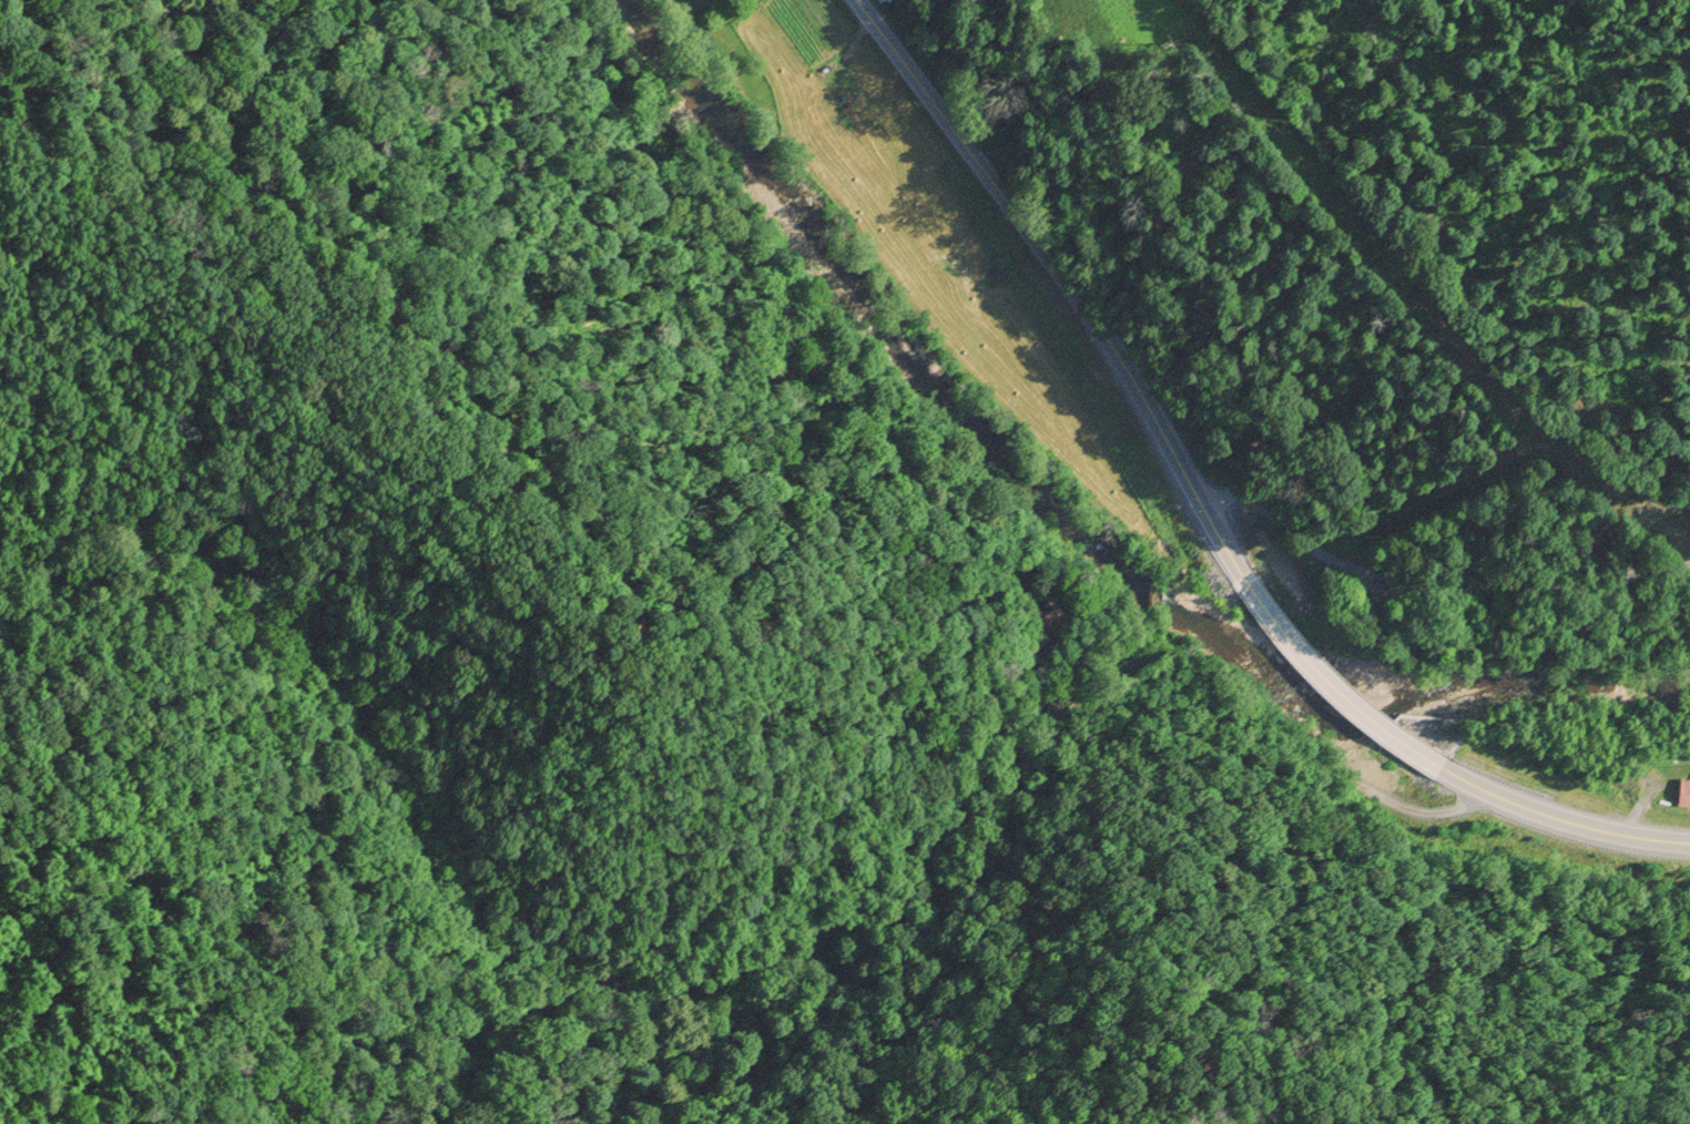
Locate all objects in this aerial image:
building: (879, 0)
road: (1099, 328)
river: (1063, 529)
road: (1431, 575)
road: (1388, 693)
building: (1682, 795)
road: (1552, 797)

